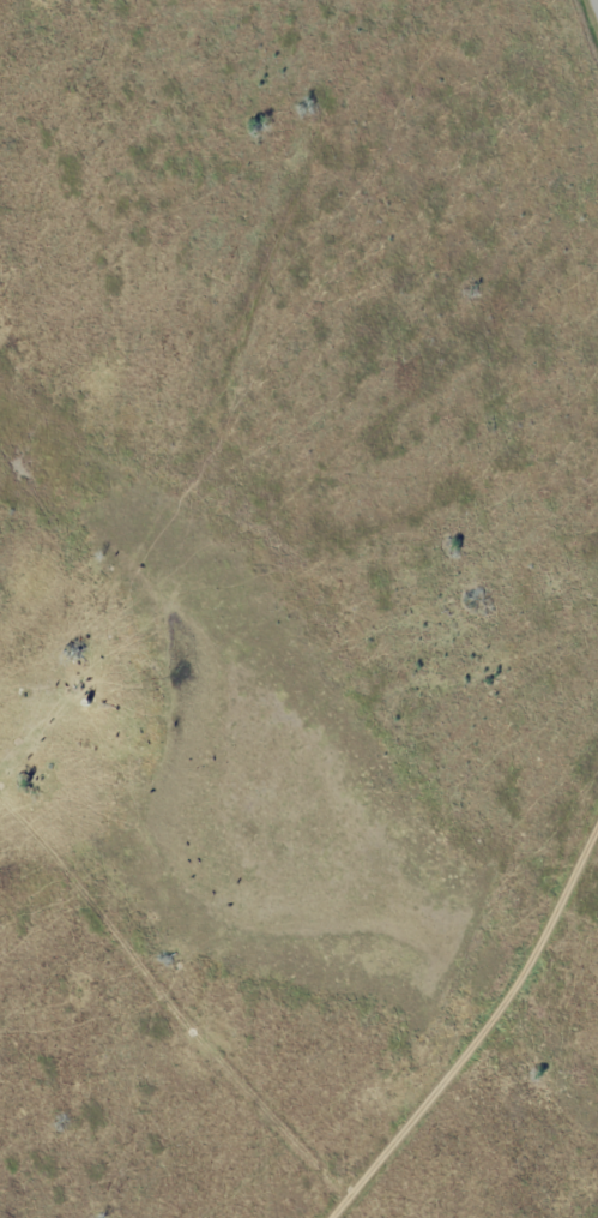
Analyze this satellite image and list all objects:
road: (483, 1055)

